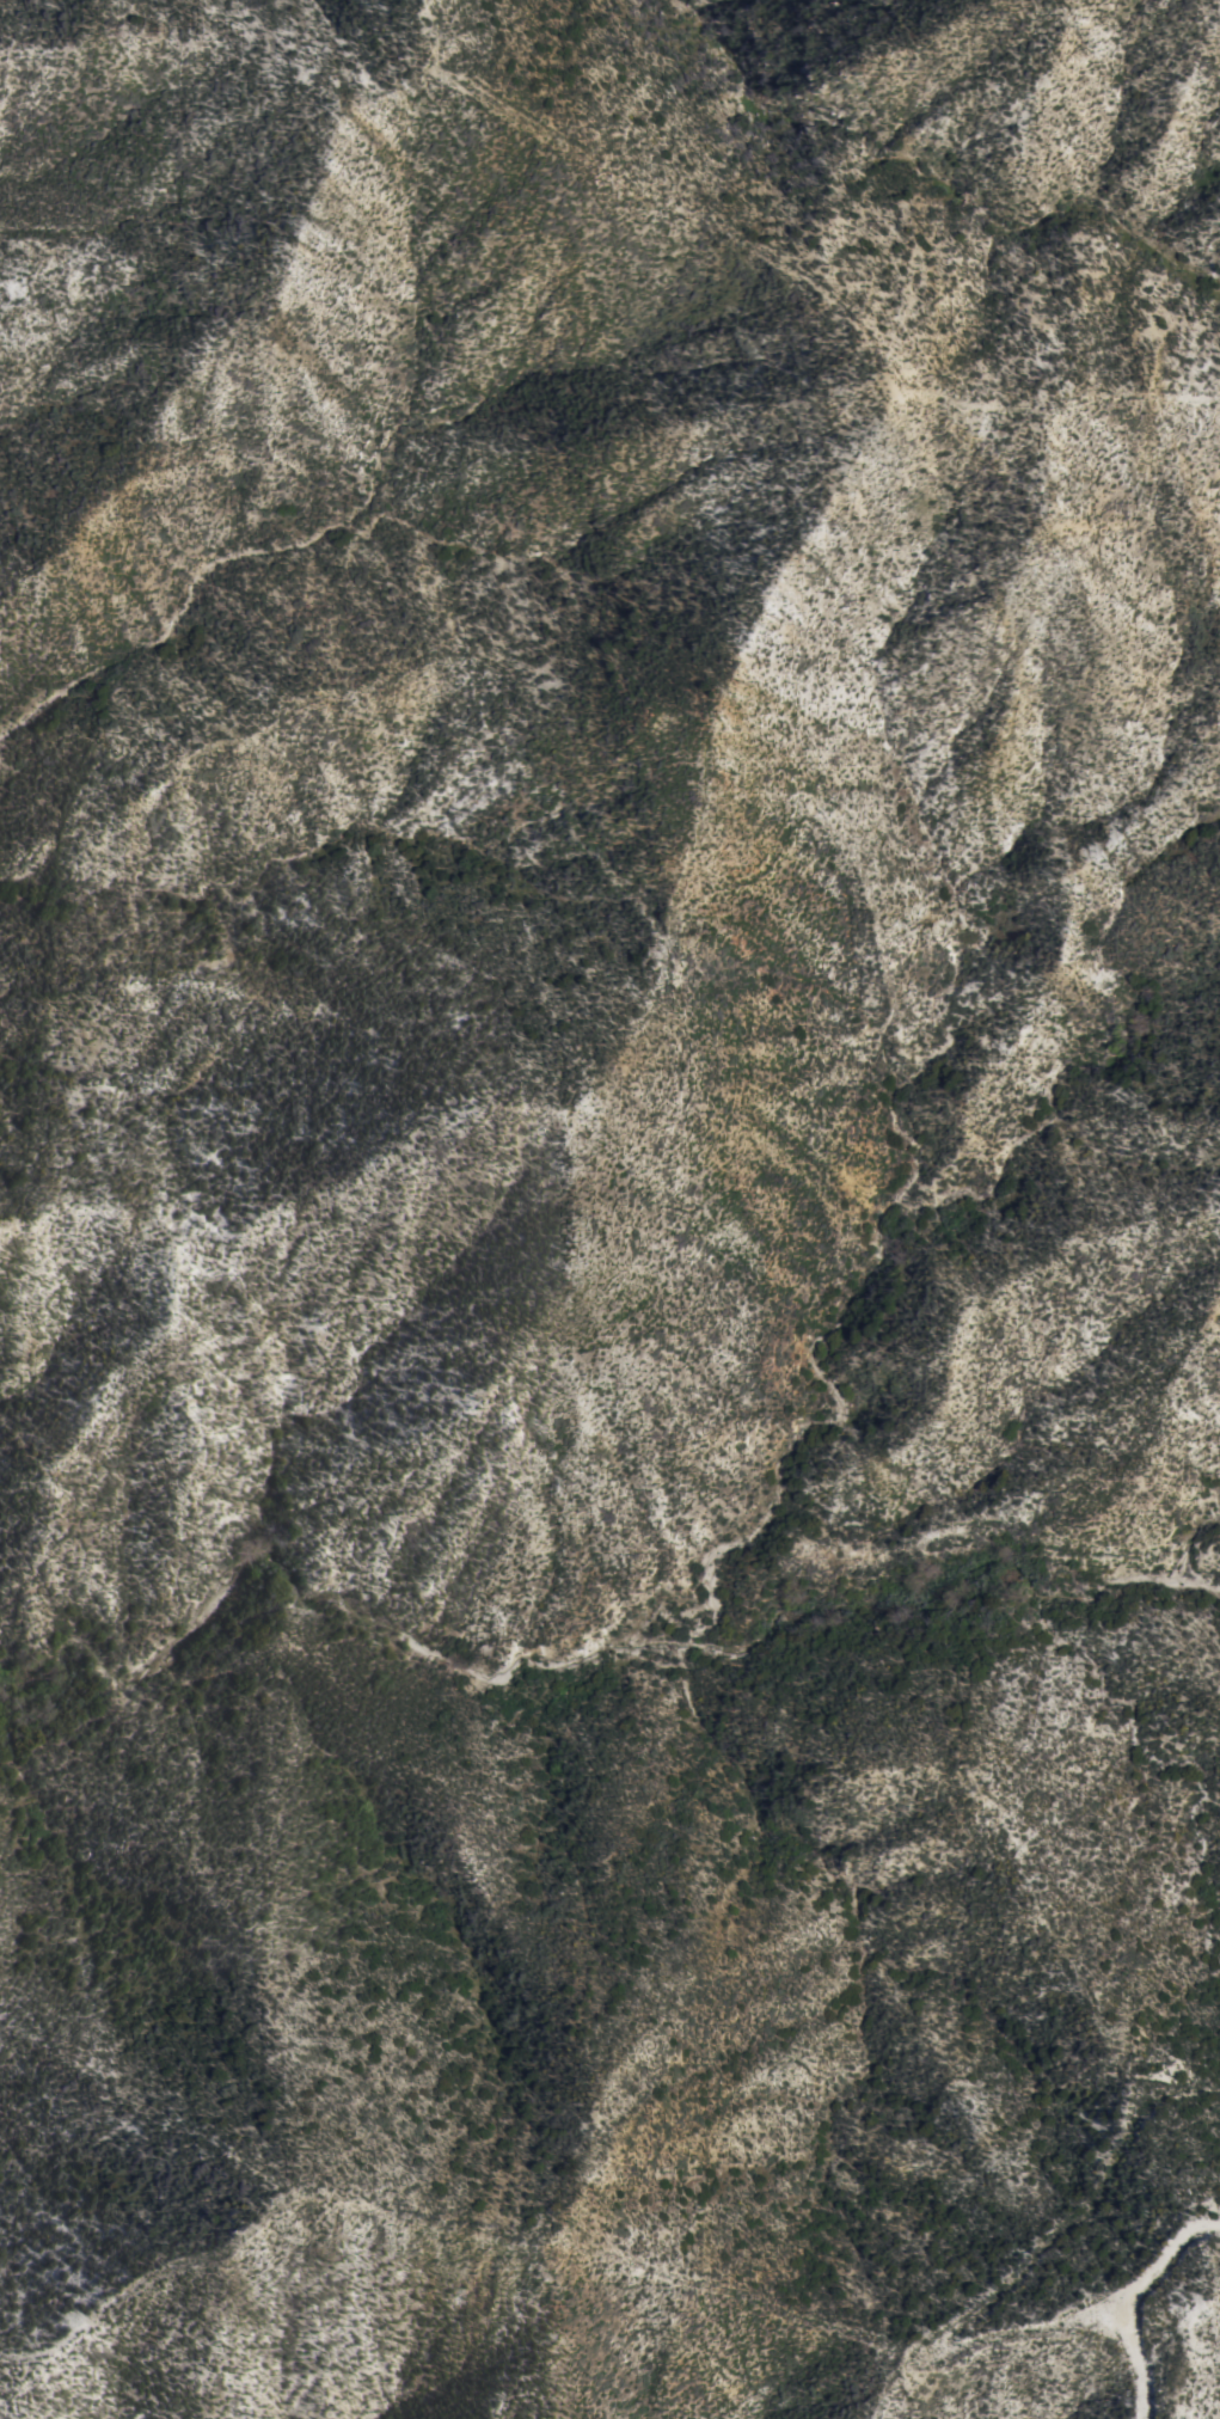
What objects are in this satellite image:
road: (1132, 2302)

